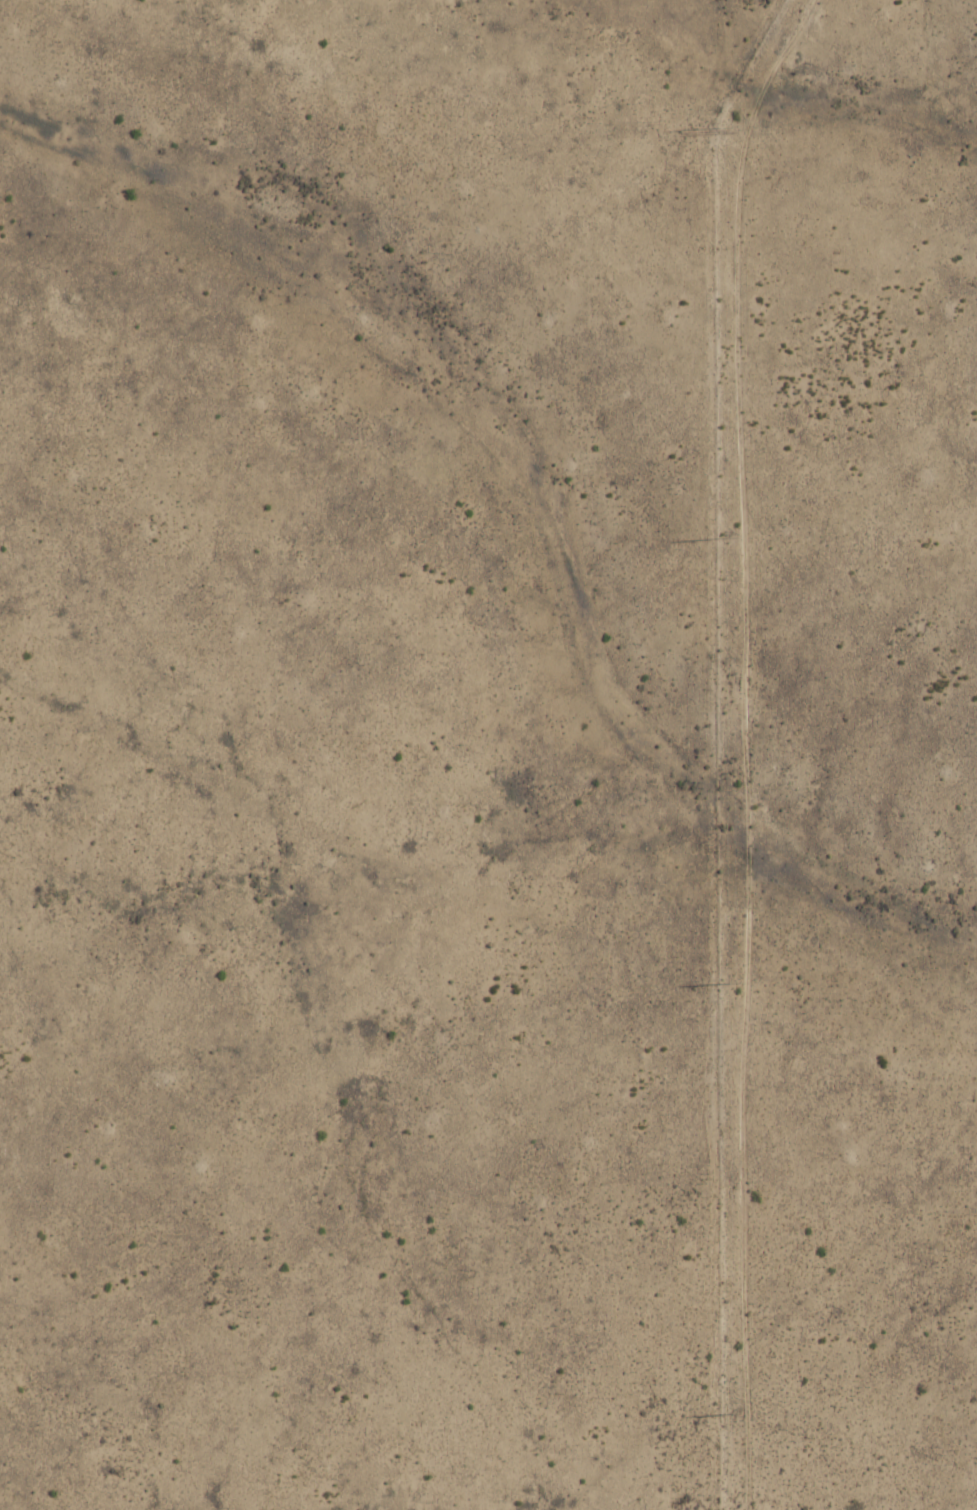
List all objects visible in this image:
road: (739, 669)
road: (860, 1221)
road: (742, 1433)
road: (663, 1441)

